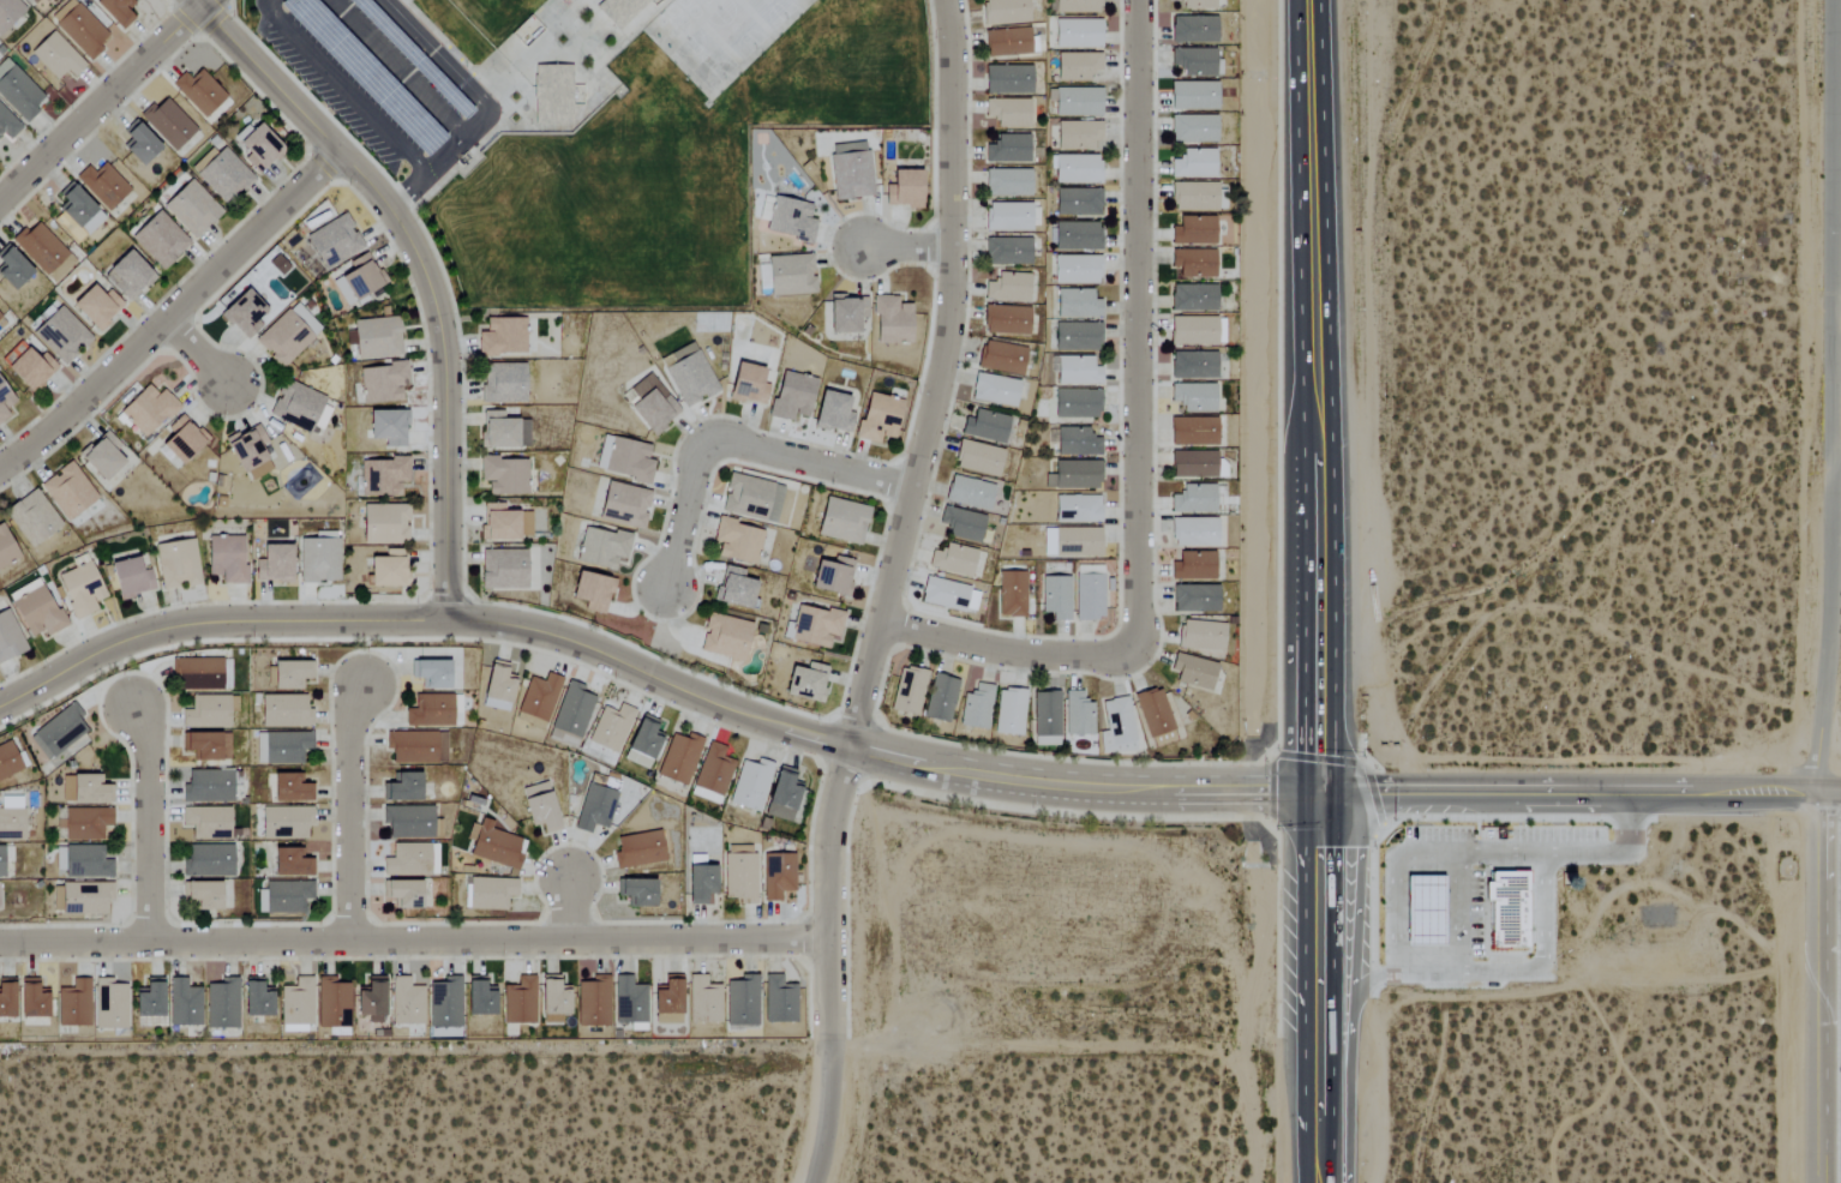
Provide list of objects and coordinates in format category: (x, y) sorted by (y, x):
building: (34, 1)
building: (1193, 5)
building: (1077, 6)
building: (618, 10)
building: (115, 11)
building: (1005, 11)
building: (8, 12)
building: (82, 30)
building: (1192, 30)
building: (1077, 34)
building: (1007, 42)
building: (55, 56)
building: (1193, 61)
building: (1077, 66)
road: (397, 67)
road: (451, 67)
building: (1007, 80)
building: (17, 91)
building: (198, 92)
building: (1193, 96)
road: (103, 101)
building: (1078, 102)
road: (359, 106)
building: (1007, 113)
building: (7, 124)
building: (167, 124)
building: (1193, 130)
building: (1078, 136)
building: (138, 145)
building: (256, 146)
building: (1007, 149)
road: (444, 154)
building: (1194, 164)
building: (1075, 169)
building: (850, 172)
building: (223, 175)
building: (1007, 182)
building: (102, 186)
building: (902, 190)
building: (1193, 197)
building: (1078, 202)
building: (191, 209)
building: (78, 211)
building: (1008, 217)
building: (790, 220)
road: (1301, 223)
building: (1193, 230)
building: (1077, 236)
building: (158, 240)
building: (335, 240)
road: (907, 247)
building: (43, 251)
building: (1007, 252)
building: (1192, 264)
road: (421, 268)
building: (11, 269)
building: (1077, 270)
building: (126, 275)
building: (790, 275)
building: (358, 280)
building: (1008, 288)
building: (1192, 299)
building: (1077, 305)
building: (95, 307)
building: (845, 314)
building: (242, 316)
road: (176, 319)
building: (1006, 320)
building: (890, 322)
road: (1135, 328)
building: (1197, 331)
building: (60, 336)
building: (287, 336)
building: (502, 337)
building: (1075, 337)
building: (376, 338)
road: (198, 354)
building: (1001, 358)
building: (1192, 365)
building: (29, 370)
building: (1077, 371)
building: (688, 376)
building: (502, 383)
building: (382, 384)
building: (746, 385)
building: (994, 390)
road: (1330, 392)
building: (792, 396)
road: (1835, 396)
building: (1193, 397)
building: (5, 402)
building: (1077, 404)
building: (652, 406)
building: (299, 407)
building: (148, 410)
building: (832, 413)
building: (877, 419)
building: (985, 426)
building: (388, 428)
building: (1192, 431)
building: (503, 432)
building: (181, 440)
building: (1077, 443)
road: (736, 446)
building: (248, 452)
building: (101, 457)
building: (978, 458)
building: (624, 460)
building: (1192, 464)
building: (1074, 475)
building: (504, 476)
building: (383, 478)
building: (67, 492)
building: (969, 493)
building: (751, 499)
building: (1193, 499)
building: (624, 505)
building: (1077, 509)
building: (31, 518)
building: (841, 521)
building: (384, 523)
building: (503, 524)
building: (961, 524)
building: (1193, 533)
building: (1077, 541)
building: (737, 542)
building: (601, 548)
building: (6, 550)
building: (318, 558)
building: (224, 559)
building: (953, 560)
building: (274, 564)
building: (176, 565)
building: (1193, 566)
building: (385, 570)
building: (502, 570)
building: (832, 577)
building: (128, 580)
building: (733, 589)
building: (79, 590)
building: (592, 591)
road: (887, 591)
building: (948, 595)
building: (1011, 595)
building: (1055, 597)
building: (1089, 597)
building: (1194, 599)
building: (36, 611)
road: (1305, 615)
building: (815, 627)
building: (1200, 636)
building: (725, 637)
building: (8, 638)
road: (1005, 649)
road: (648, 672)
building: (1193, 672)
building: (197, 674)
building: (430, 674)
building: (289, 675)
building: (805, 684)
building: (497, 686)
building: (908, 691)
building: (539, 698)
building: (941, 698)
building: (977, 708)
building: (572, 710)
building: (284, 711)
building: (431, 711)
building: (206, 713)
building: (1009, 713)
building: (1153, 713)
building: (1078, 715)
building: (1045, 719)
building: (1117, 727)
building: (611, 728)
building: (59, 732)
building: (643, 739)
building: (206, 747)
building: (284, 747)
building: (416, 747)
building: (679, 759)
building: (7, 762)
building: (712, 775)
building: (751, 786)
traffic signals: (1306, 786)
traffic signals: (1331, 786)
building: (208, 787)
road: (1573, 788)
building: (289, 789)
building: (402, 789)
building: (85, 791)
building: (782, 795)
building: (595, 804)
building: (539, 807)
road: (358, 815)
building: (11, 819)
building: (284, 822)
building: (407, 822)
building: (206, 823)
building: (85, 824)
road: (148, 824)
building: (492, 846)
building: (637, 851)
road: (1407, 854)
building: (412, 860)
building: (208, 861)
building: (1, 863)
building: (85, 863)
building: (289, 864)
road: (1331, 864)
building: (739, 875)
building: (778, 876)
building: (700, 885)
building: (636, 893)
building: (490, 894)
building: (403, 895)
building: (203, 896)
building: (283, 897)
building: (80, 899)
road: (570, 905)
building: (1504, 905)
road: (1539, 909)
building: (1422, 911)
road: (1455, 913)
road: (416, 941)
road: (1331, 977)
road: (1305, 980)
road: (1816, 987)
road: (1361, 989)
building: (552, 997)
building: (6, 998)
building: (30, 999)
building: (148, 999)
building: (256, 999)
building: (371, 999)
building: (479, 999)
building: (779, 999)
building: (629, 1001)
building: (667, 1001)
building: (703, 1001)
building: (742, 1001)
building: (407, 1002)
building: (520, 1002)
building: (593, 1002)
building: (73, 1003)
building: (184, 1003)
building: (222, 1003)
building: (334, 1005)
building: (298, 1007)
building: (445, 1007)
building: (113, 1008)
road: (1331, 1061)
road: (1330, 1142)
road: (1305, 1178)
road: (1330, 1178)

